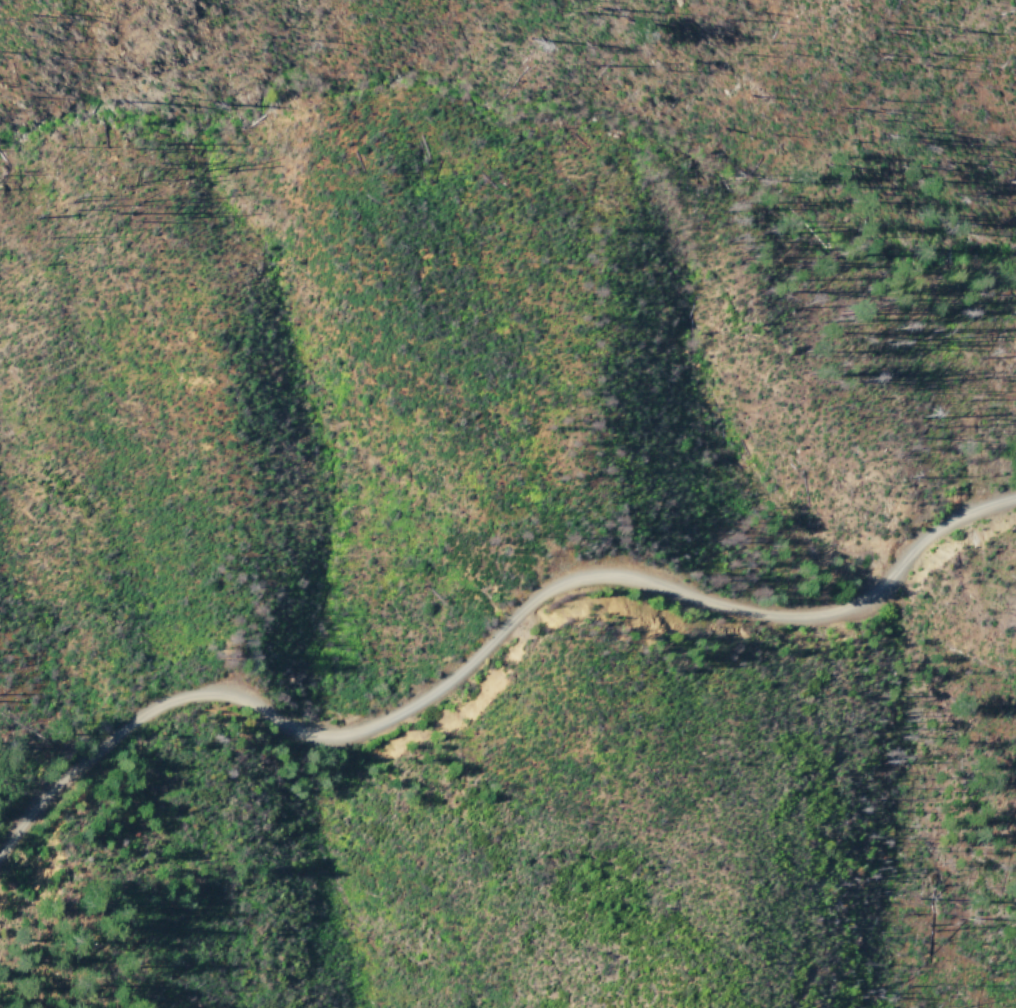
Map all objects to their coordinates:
road: (521, 704)

